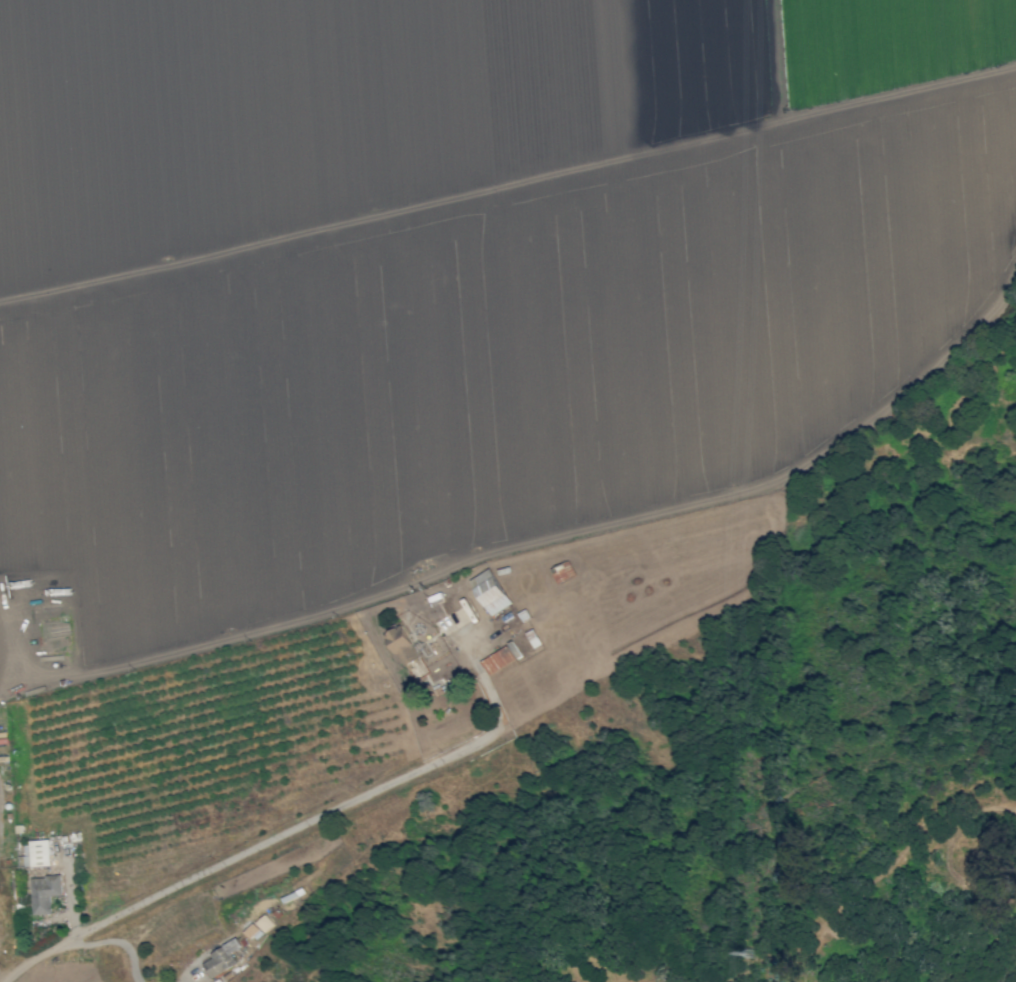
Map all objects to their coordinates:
crop: (425, 371)
road: (537, 550)
building: (490, 591)
road: (457, 636)
building: (402, 645)
building: (497, 659)
road: (275, 843)
building: (35, 854)
building: (44, 892)
building: (263, 923)
building: (251, 930)
power tower: (748, 953)
building: (221, 958)

